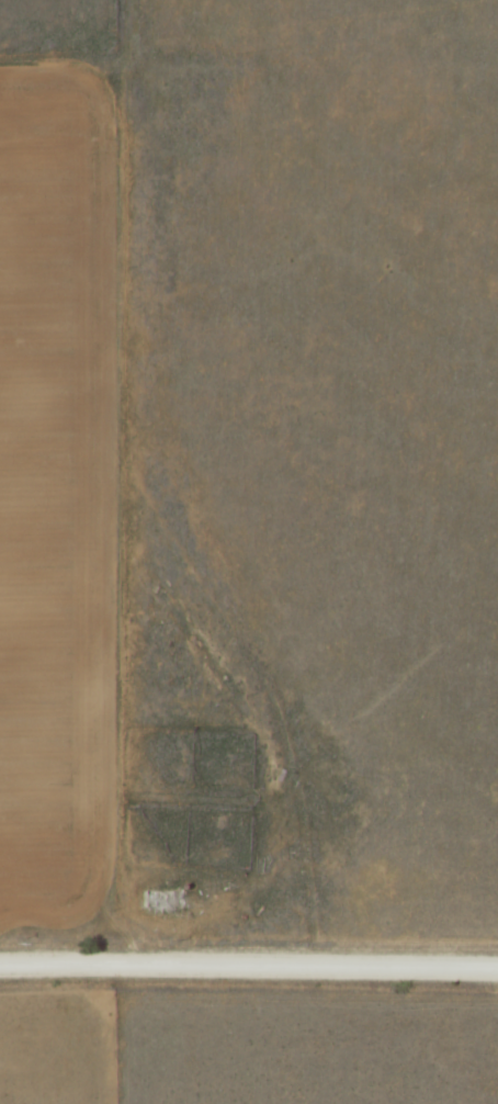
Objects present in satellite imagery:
road: (248, 968)

